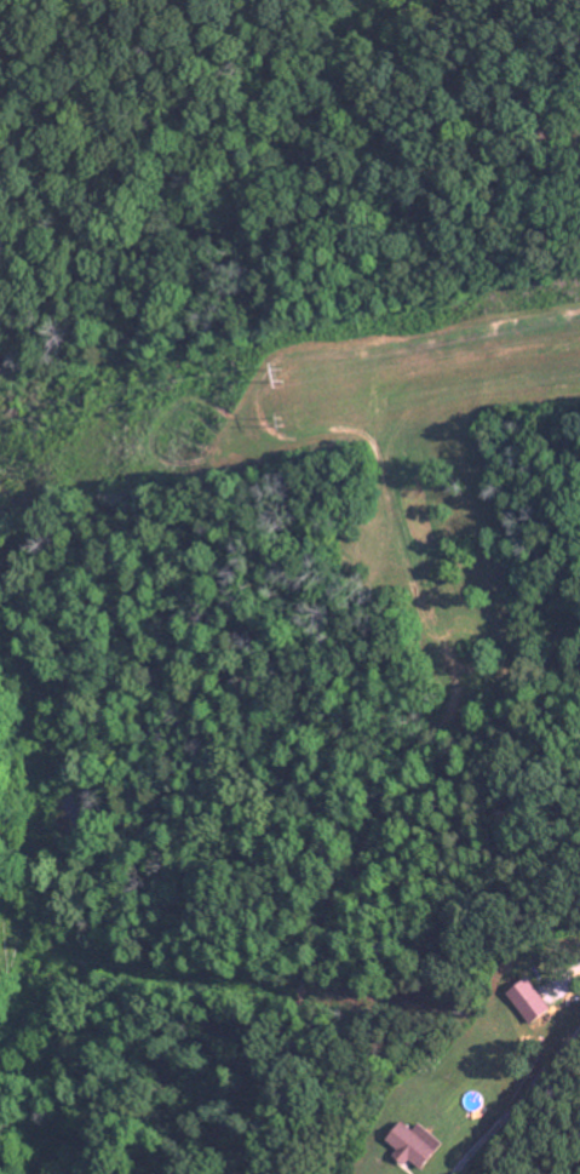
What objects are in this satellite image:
power tower: (281, 373)
power tower: (282, 417)
road: (579, 974)
building: (550, 1004)
road: (517, 1104)
building: (431, 1150)

